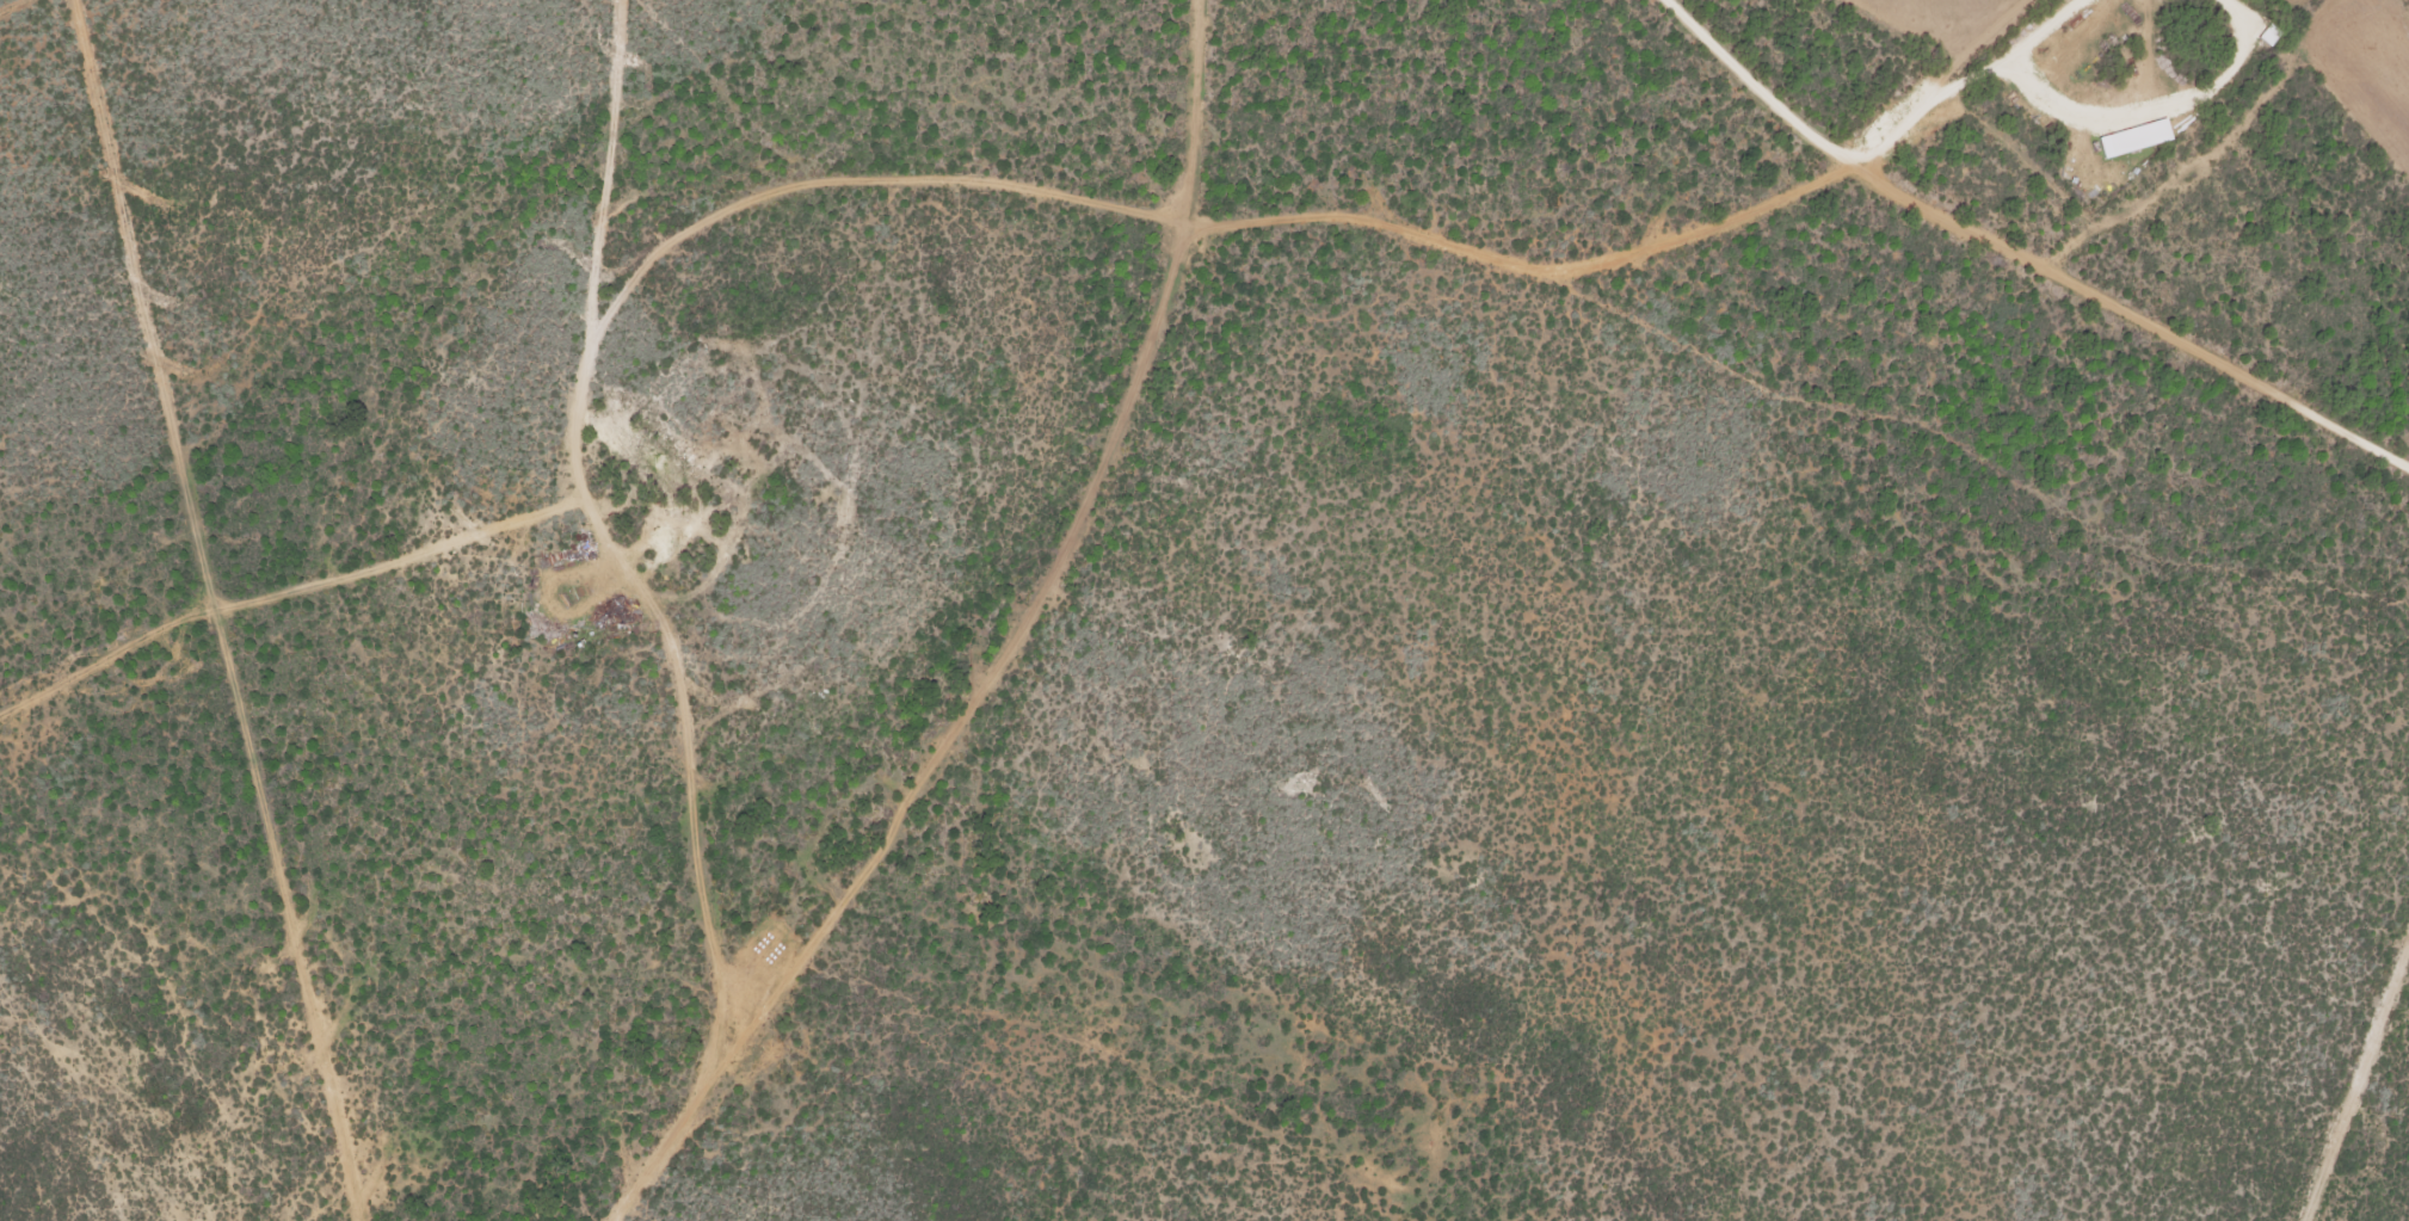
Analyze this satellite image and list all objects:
road: (2023, 259)
road: (661, 615)
road: (2356, 1079)

